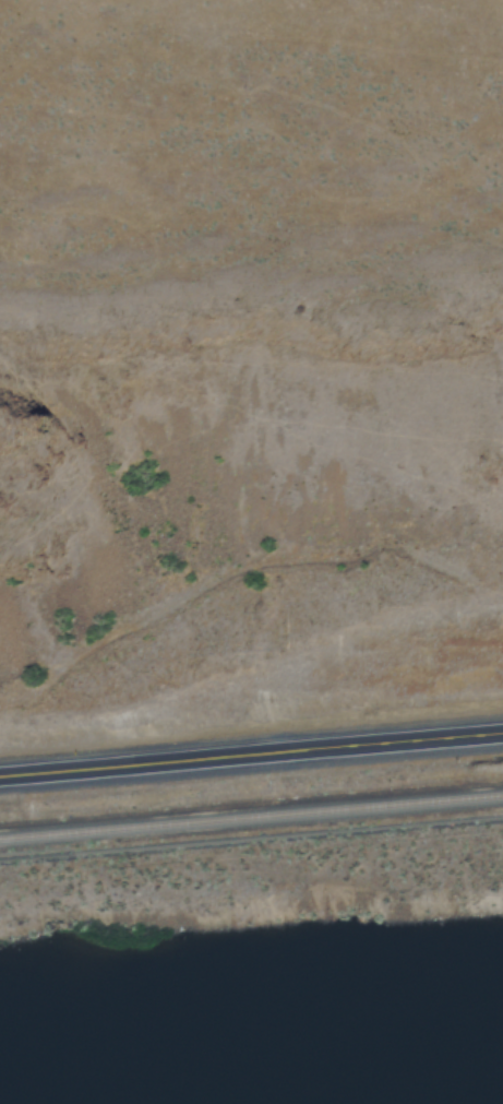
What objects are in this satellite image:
road: (251, 753)
railway: (251, 816)

